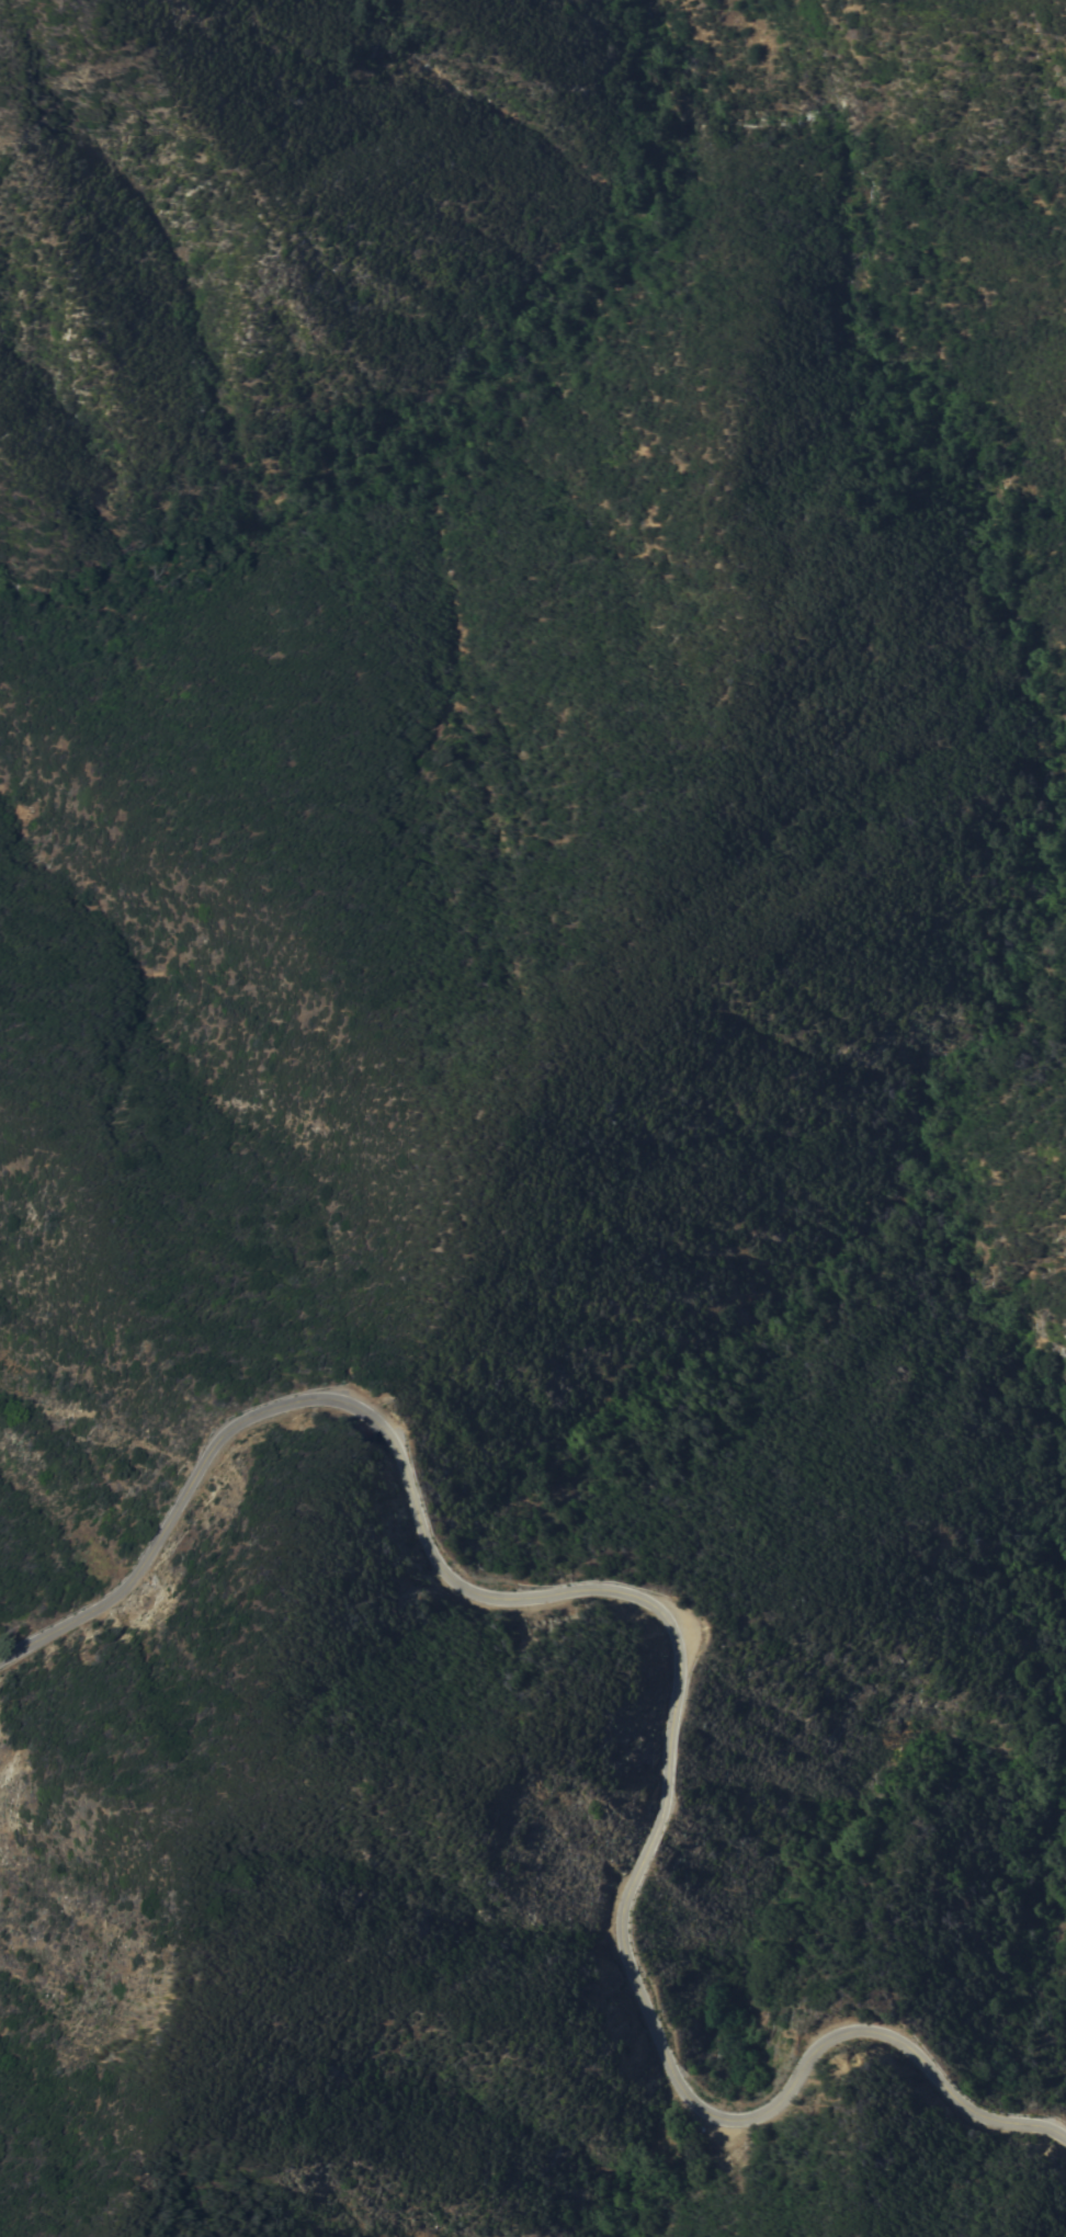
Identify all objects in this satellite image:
parking lot: (688, 1630)
road: (679, 1645)

